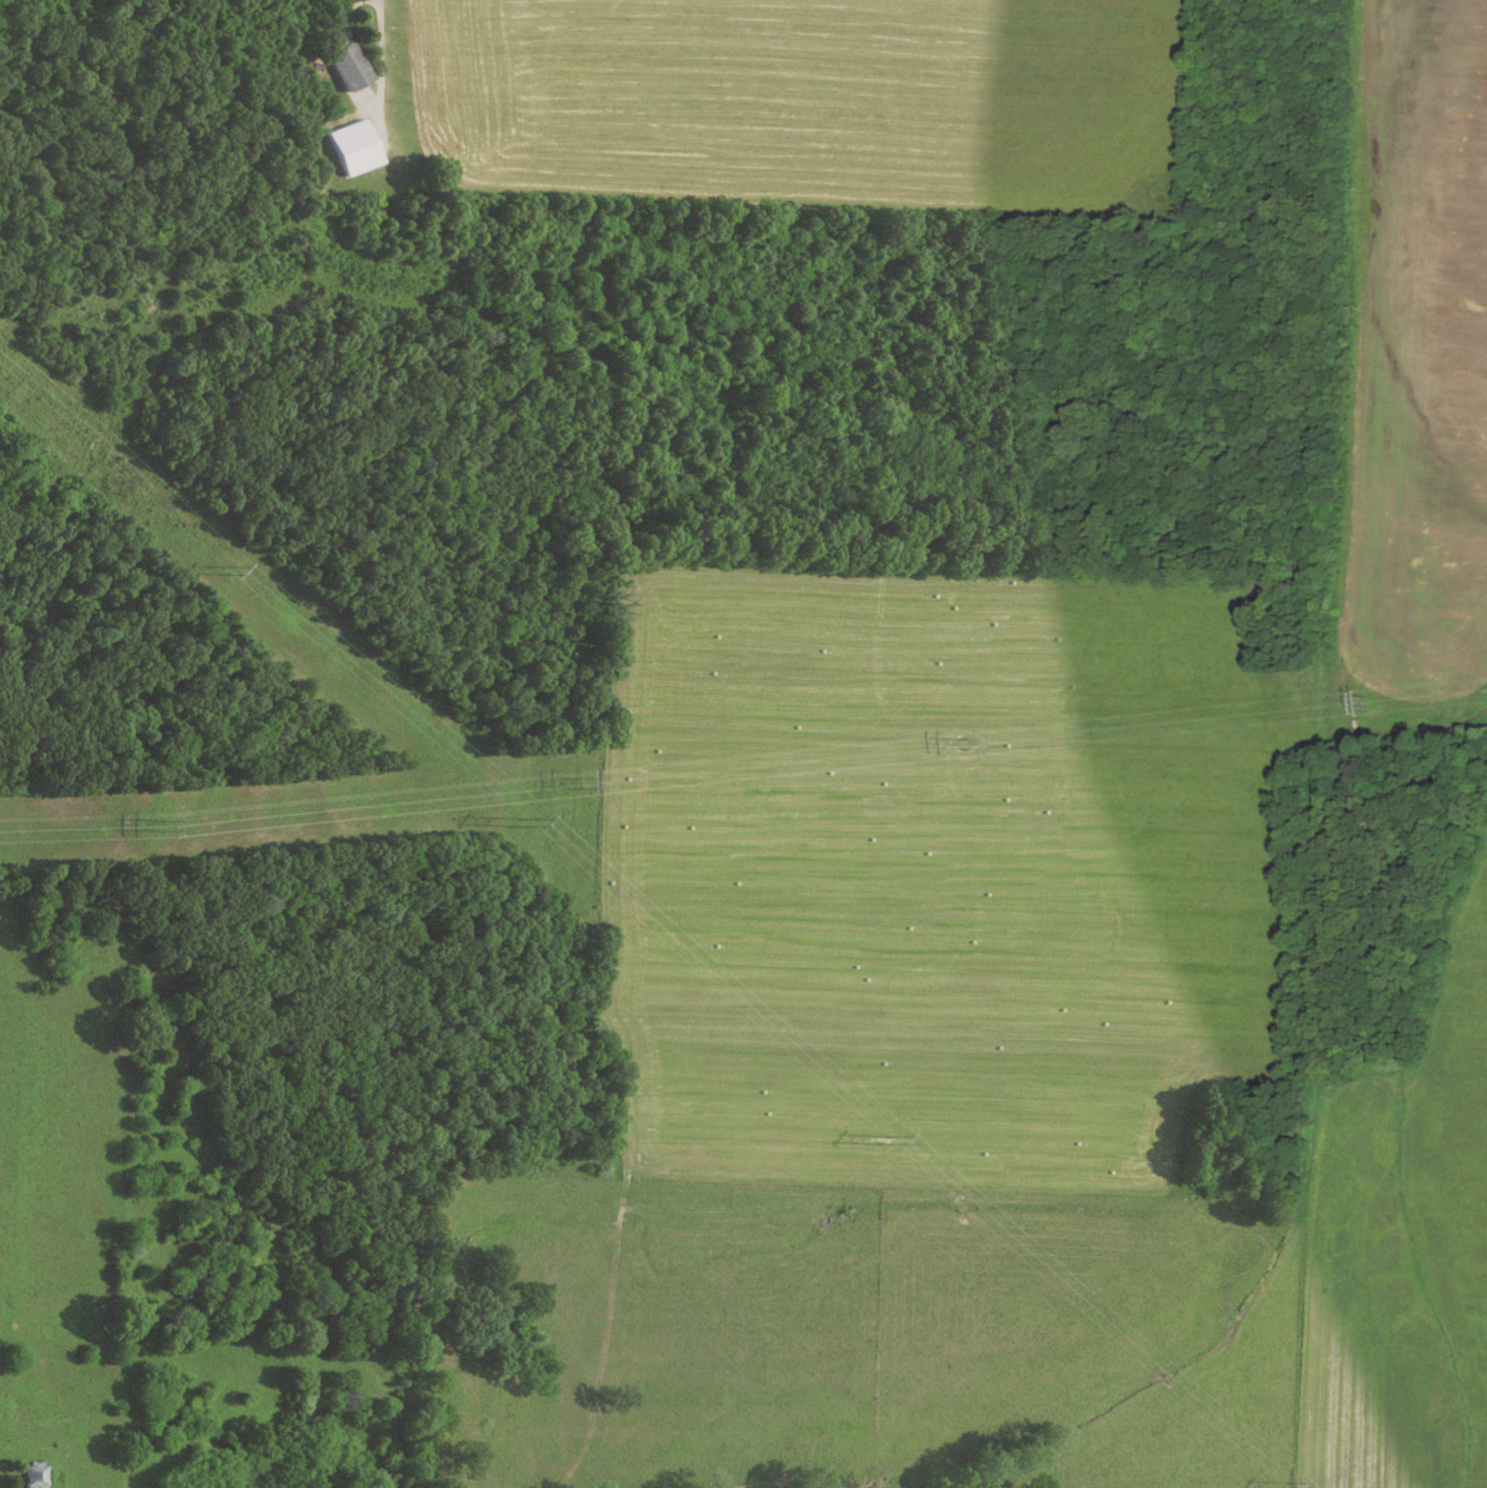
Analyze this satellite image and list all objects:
road: (382, 37)
building: (349, 61)
building: (358, 146)
power tower: (233, 569)
power tower: (1362, 705)
power tower: (968, 745)
power tower: (576, 782)
power tower: (524, 823)
power tower: (166, 829)
power tower: (890, 1140)
building: (38, 1474)
power tower: (1286, 1486)

